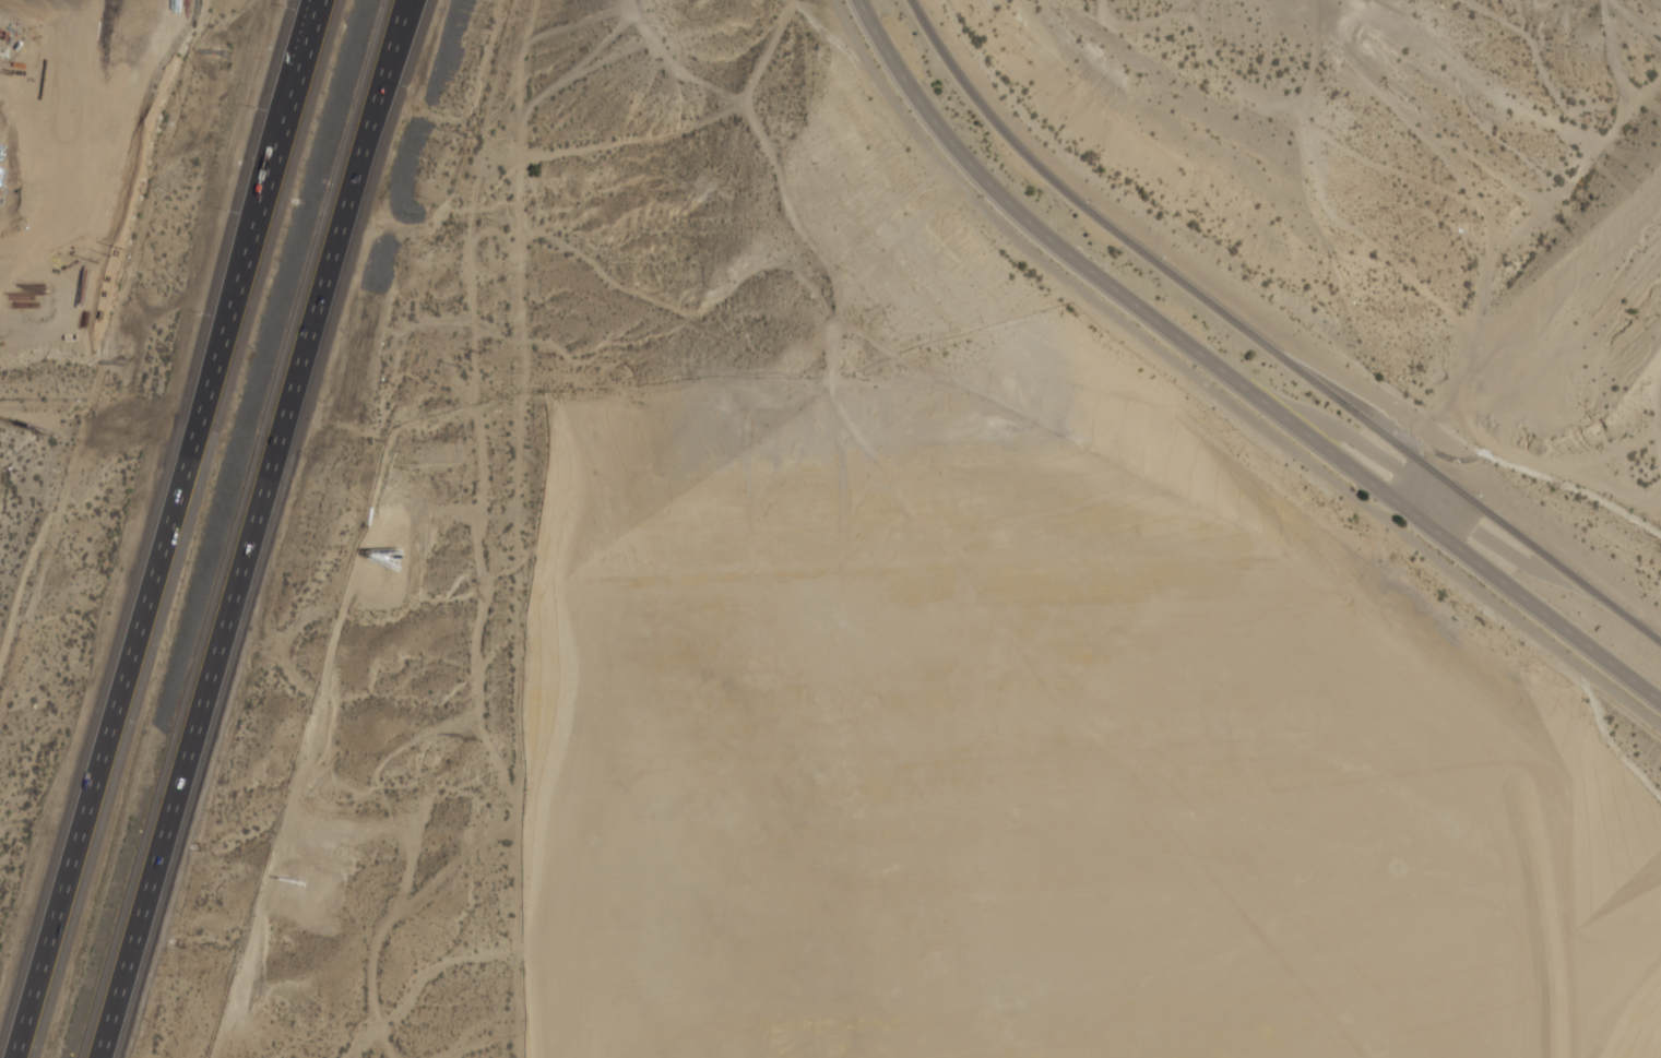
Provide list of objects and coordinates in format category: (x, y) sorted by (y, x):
road: (1263, 341)
road: (1232, 376)
road: (1214, 394)
road: (171, 513)
road: (260, 520)
road: (16, 1042)
road: (107, 1049)

